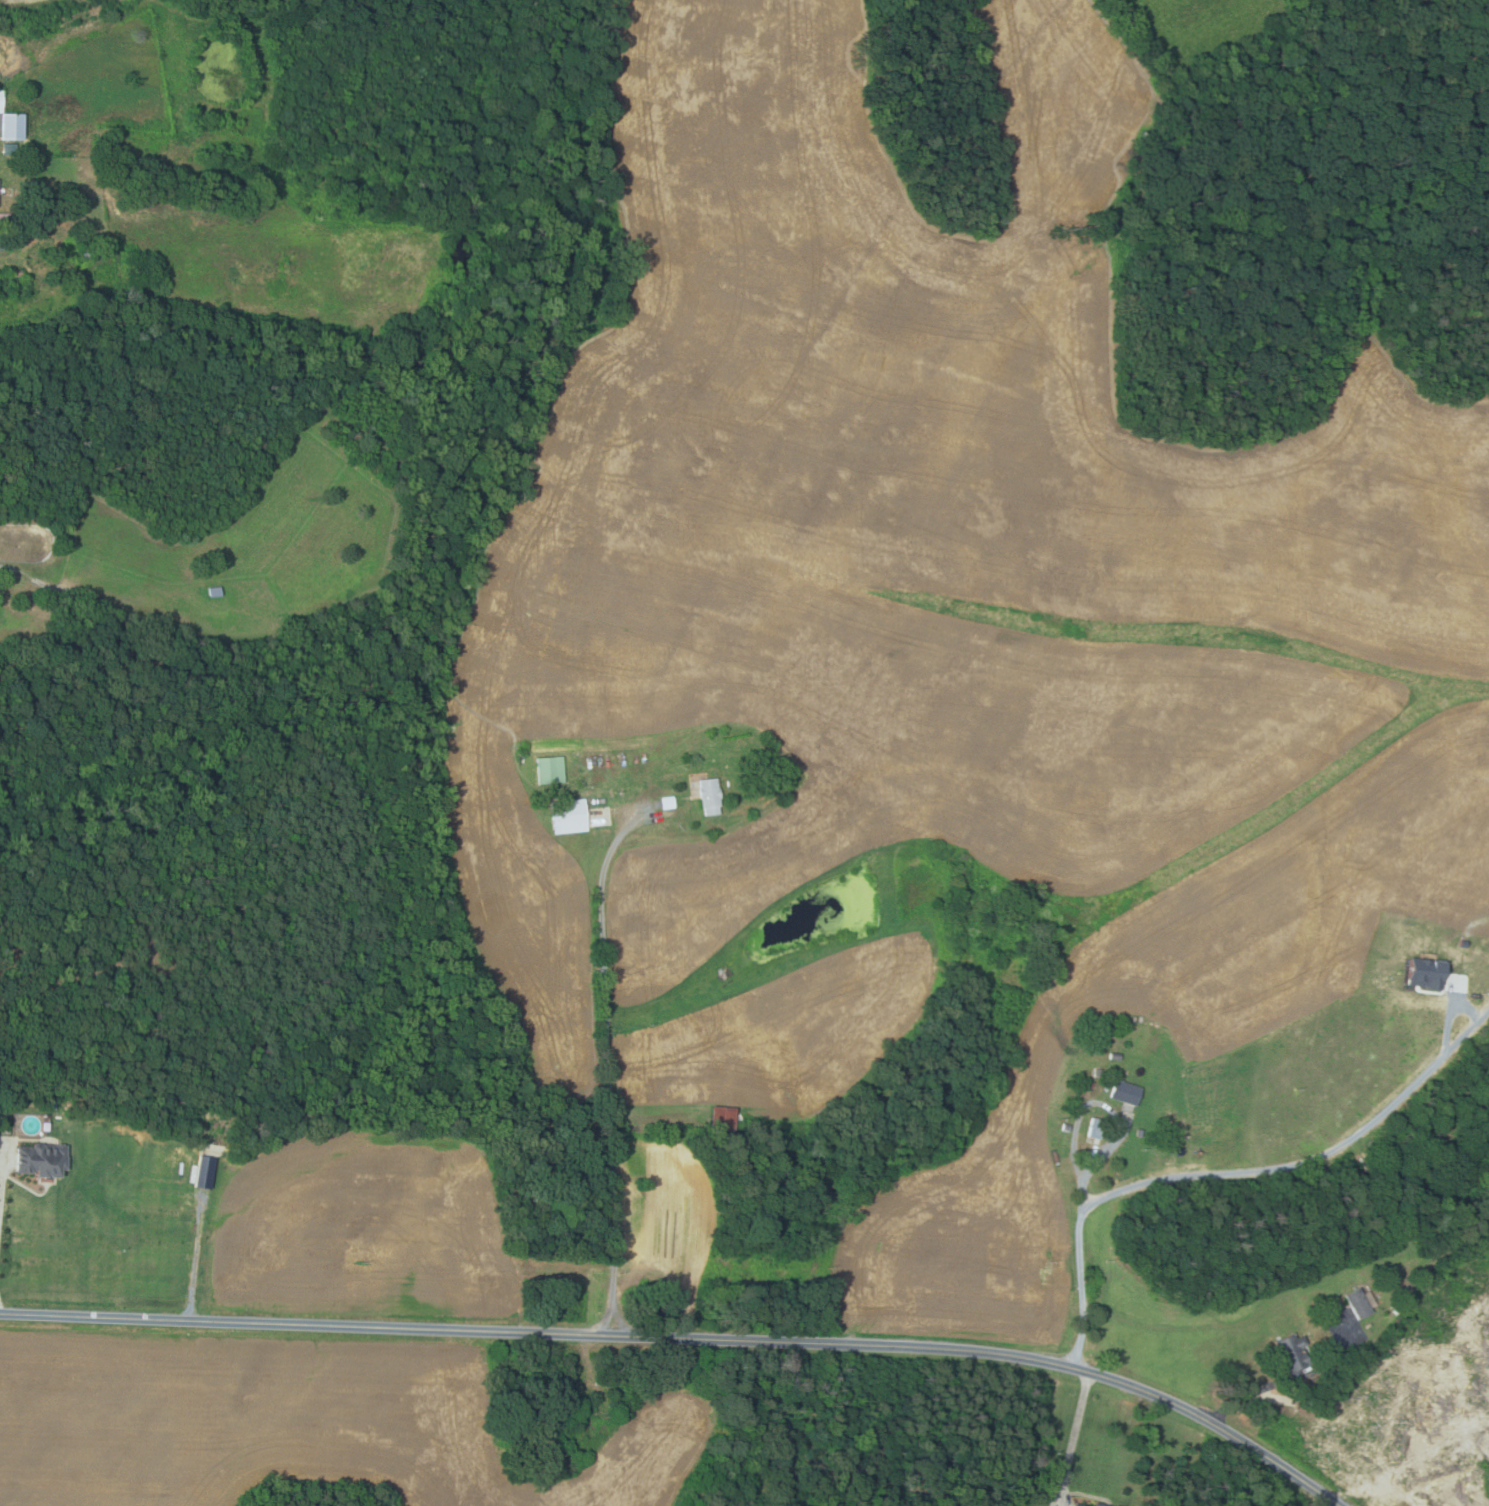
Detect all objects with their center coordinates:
building: (2, 100)
building: (15, 126)
building: (11, 147)
building: (6, 216)
building: (1, 230)
building: (82, 238)
building: (2, 245)
building: (87, 252)
building: (20, 273)
crop: (909, 518)
building: (213, 592)
building: (755, 766)
building: (548, 769)
building: (708, 795)
building: (666, 802)
building: (567, 817)
building: (1424, 974)
road: (1465, 1032)
crop: (1194, 1036)
crop: (781, 1037)
building: (1114, 1056)
building: (1096, 1072)
road: (608, 1078)
building: (1124, 1092)
building: (51, 1105)
road: (1112, 1111)
building: (1167, 1112)
building: (720, 1119)
building: (1065, 1127)
building: (1094, 1128)
building: (1138, 1133)
building: (1169, 1149)
building: (38, 1160)
road: (1309, 1161)
building: (202, 1172)
road: (2, 1178)
crop: (663, 1216)
crop: (366, 1227)
road: (195, 1257)
road: (1082, 1290)
building: (1359, 1303)
crop: (1196, 1321)
road: (688, 1338)
building: (1292, 1352)
road: (1282, 1382)
crop: (297, 1421)
road: (1073, 1438)
building: (1099, 1504)
building: (1075, 1505)

